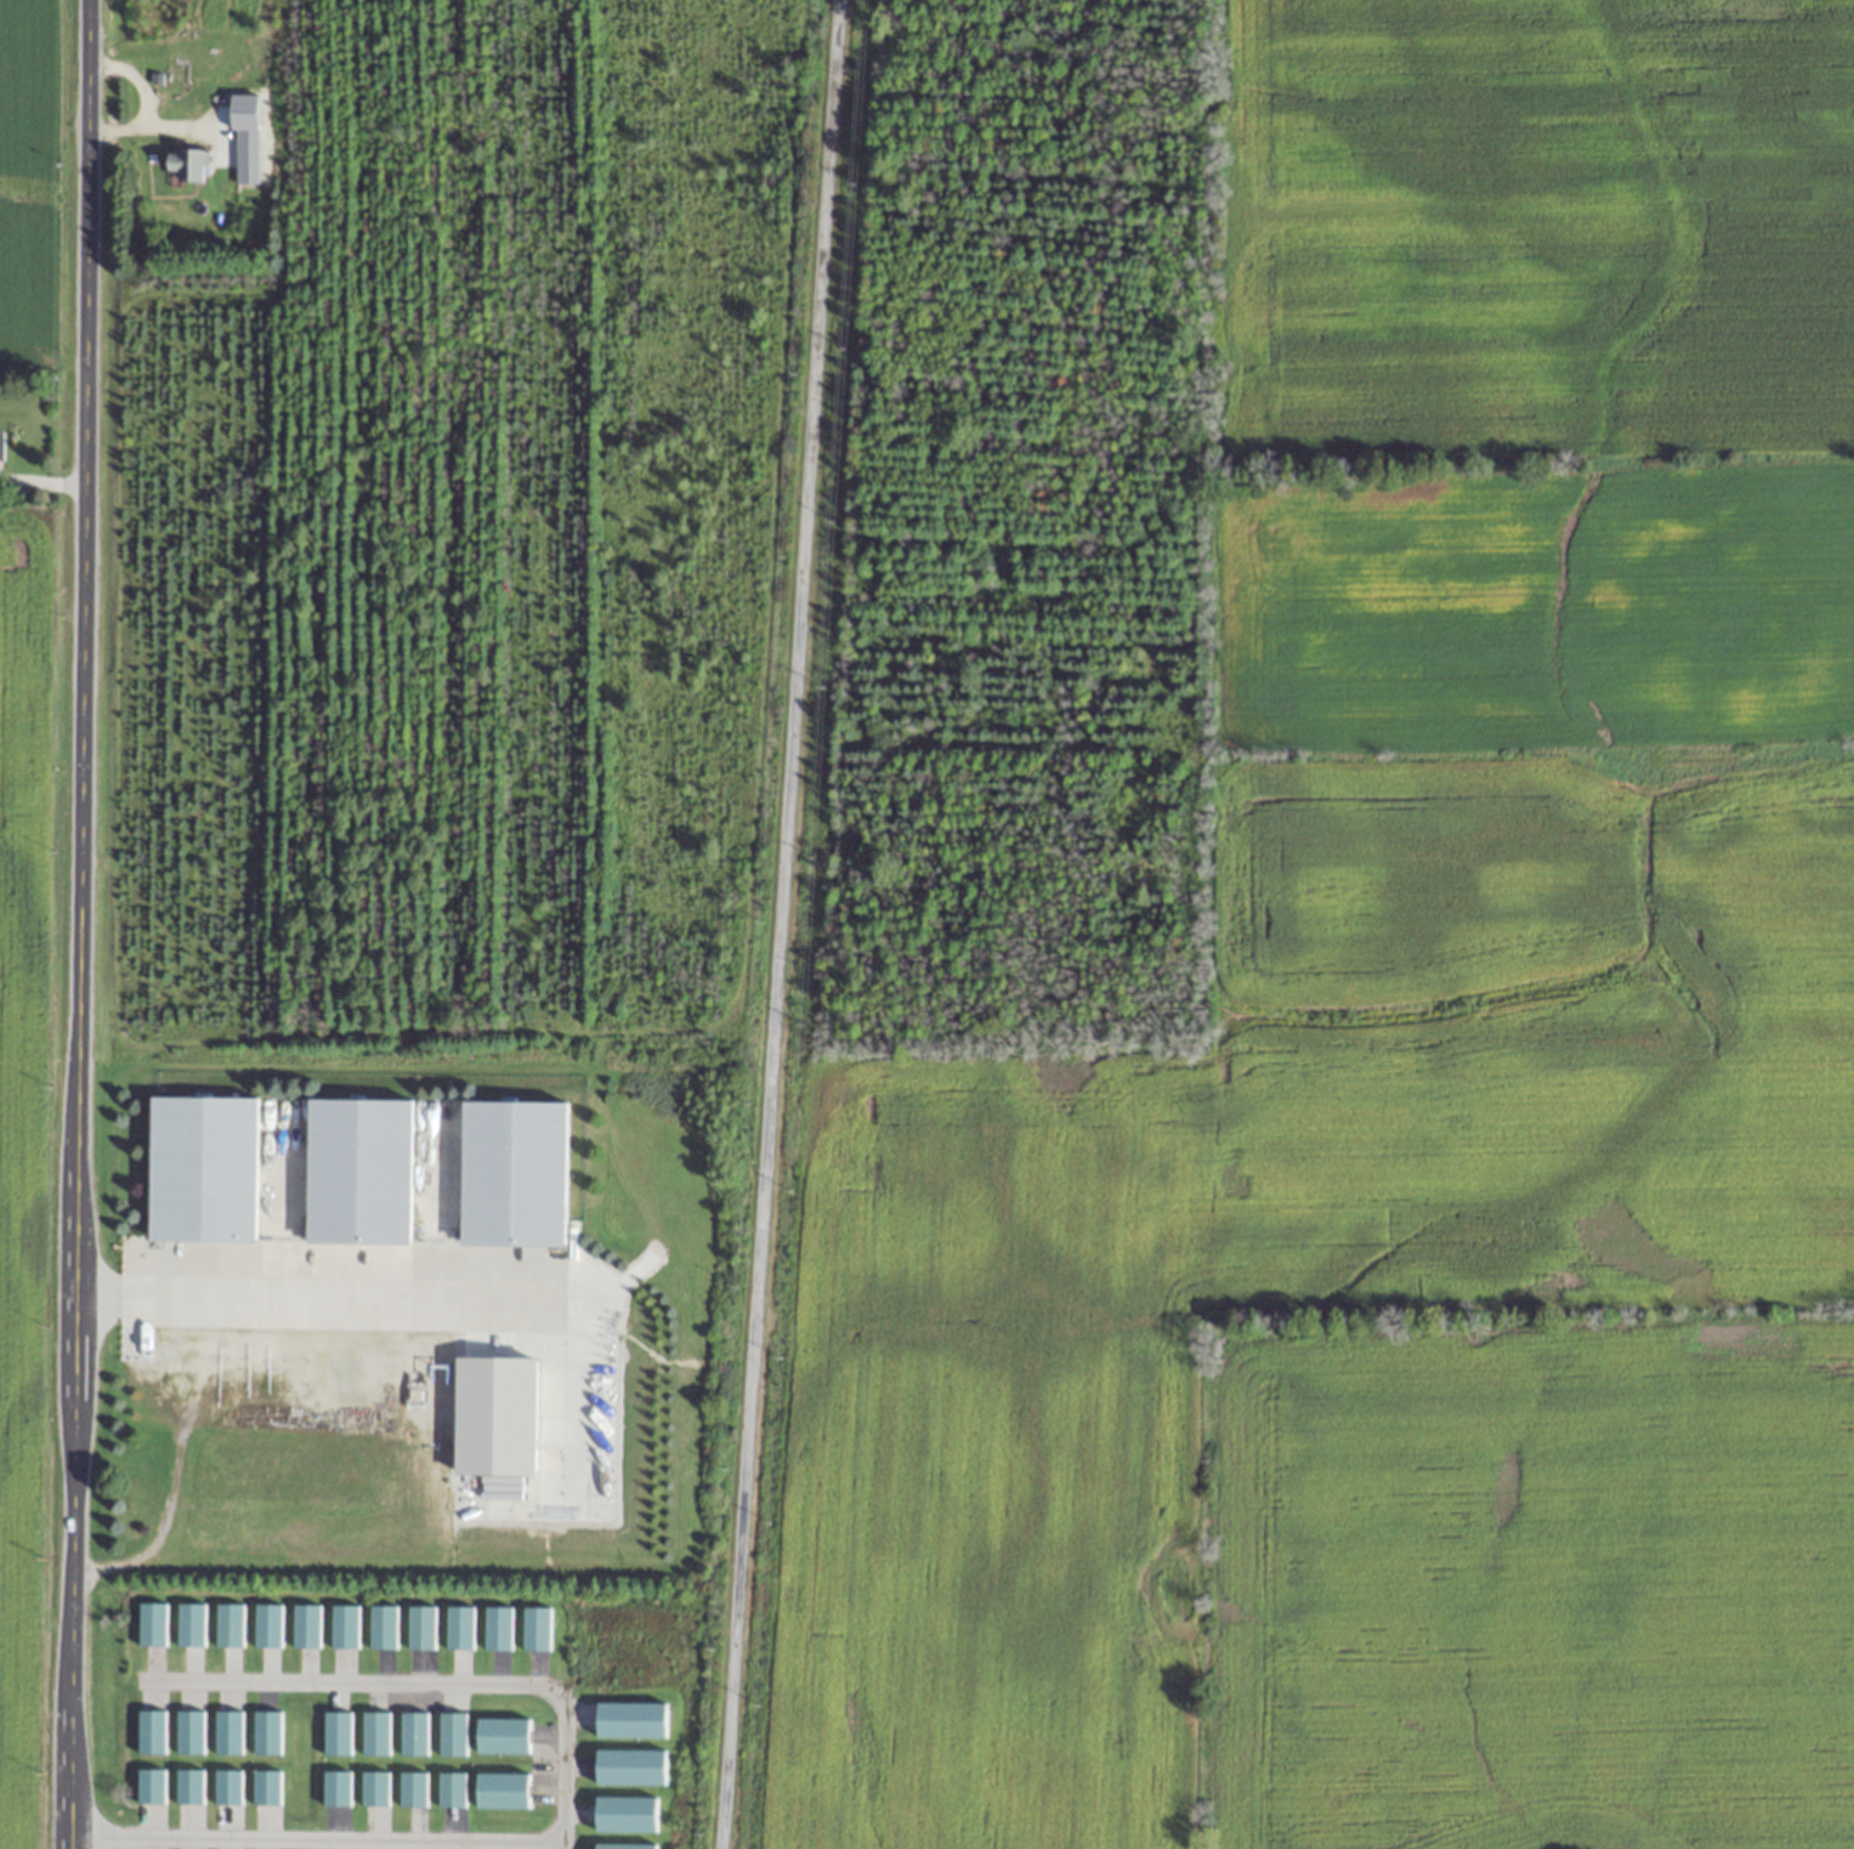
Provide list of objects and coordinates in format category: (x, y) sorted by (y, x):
road: (143, 101)
road: (175, 126)
building: (186, 164)
road: (79, 924)
road: (777, 924)
crop: (1413, 1044)
building: (203, 1170)
building: (358, 1173)
building: (514, 1175)
road: (312, 1295)
building: (152, 1623)
building: (191, 1623)
building: (228, 1624)
building: (266, 1624)
building: (305, 1626)
building: (344, 1626)
building: (381, 1627)
building: (420, 1627)
building: (459, 1627)
building: (497, 1628)
building: (534, 1628)
building: (629, 1720)
building: (151, 1731)
building: (189, 1731)
building: (227, 1731)
building: (266, 1732)
building: (335, 1732)
building: (374, 1732)
building: (413, 1734)
building: (452, 1735)
building: (501, 1736)
building: (629, 1768)
building: (151, 1786)
building: (188, 1786)
building: (227, 1787)
building: (265, 1787)
building: (335, 1788)
building: (374, 1788)
building: (412, 1790)
building: (450, 1790)
building: (500, 1791)
road: (561, 1805)
building: (624, 1814)
road: (560, 1845)
building: (624, 1847)

